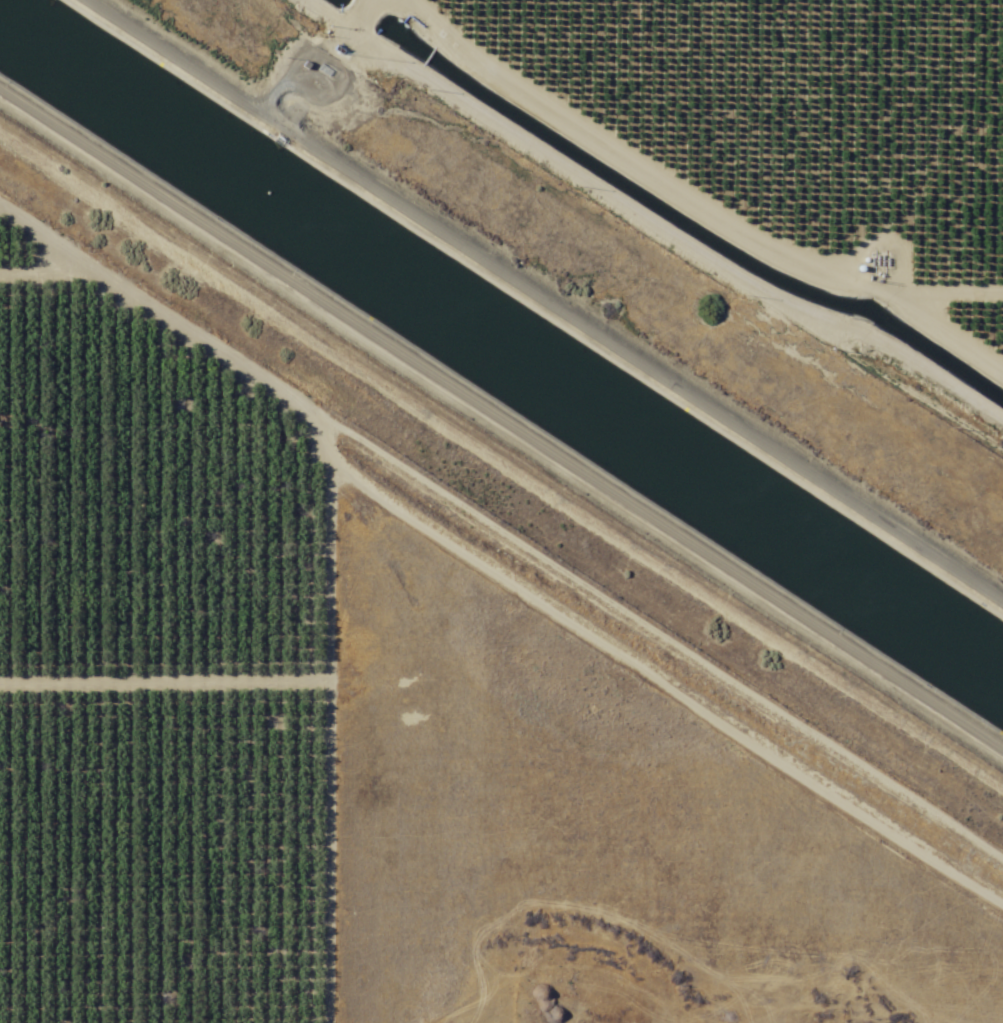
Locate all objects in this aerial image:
road: (501, 423)

